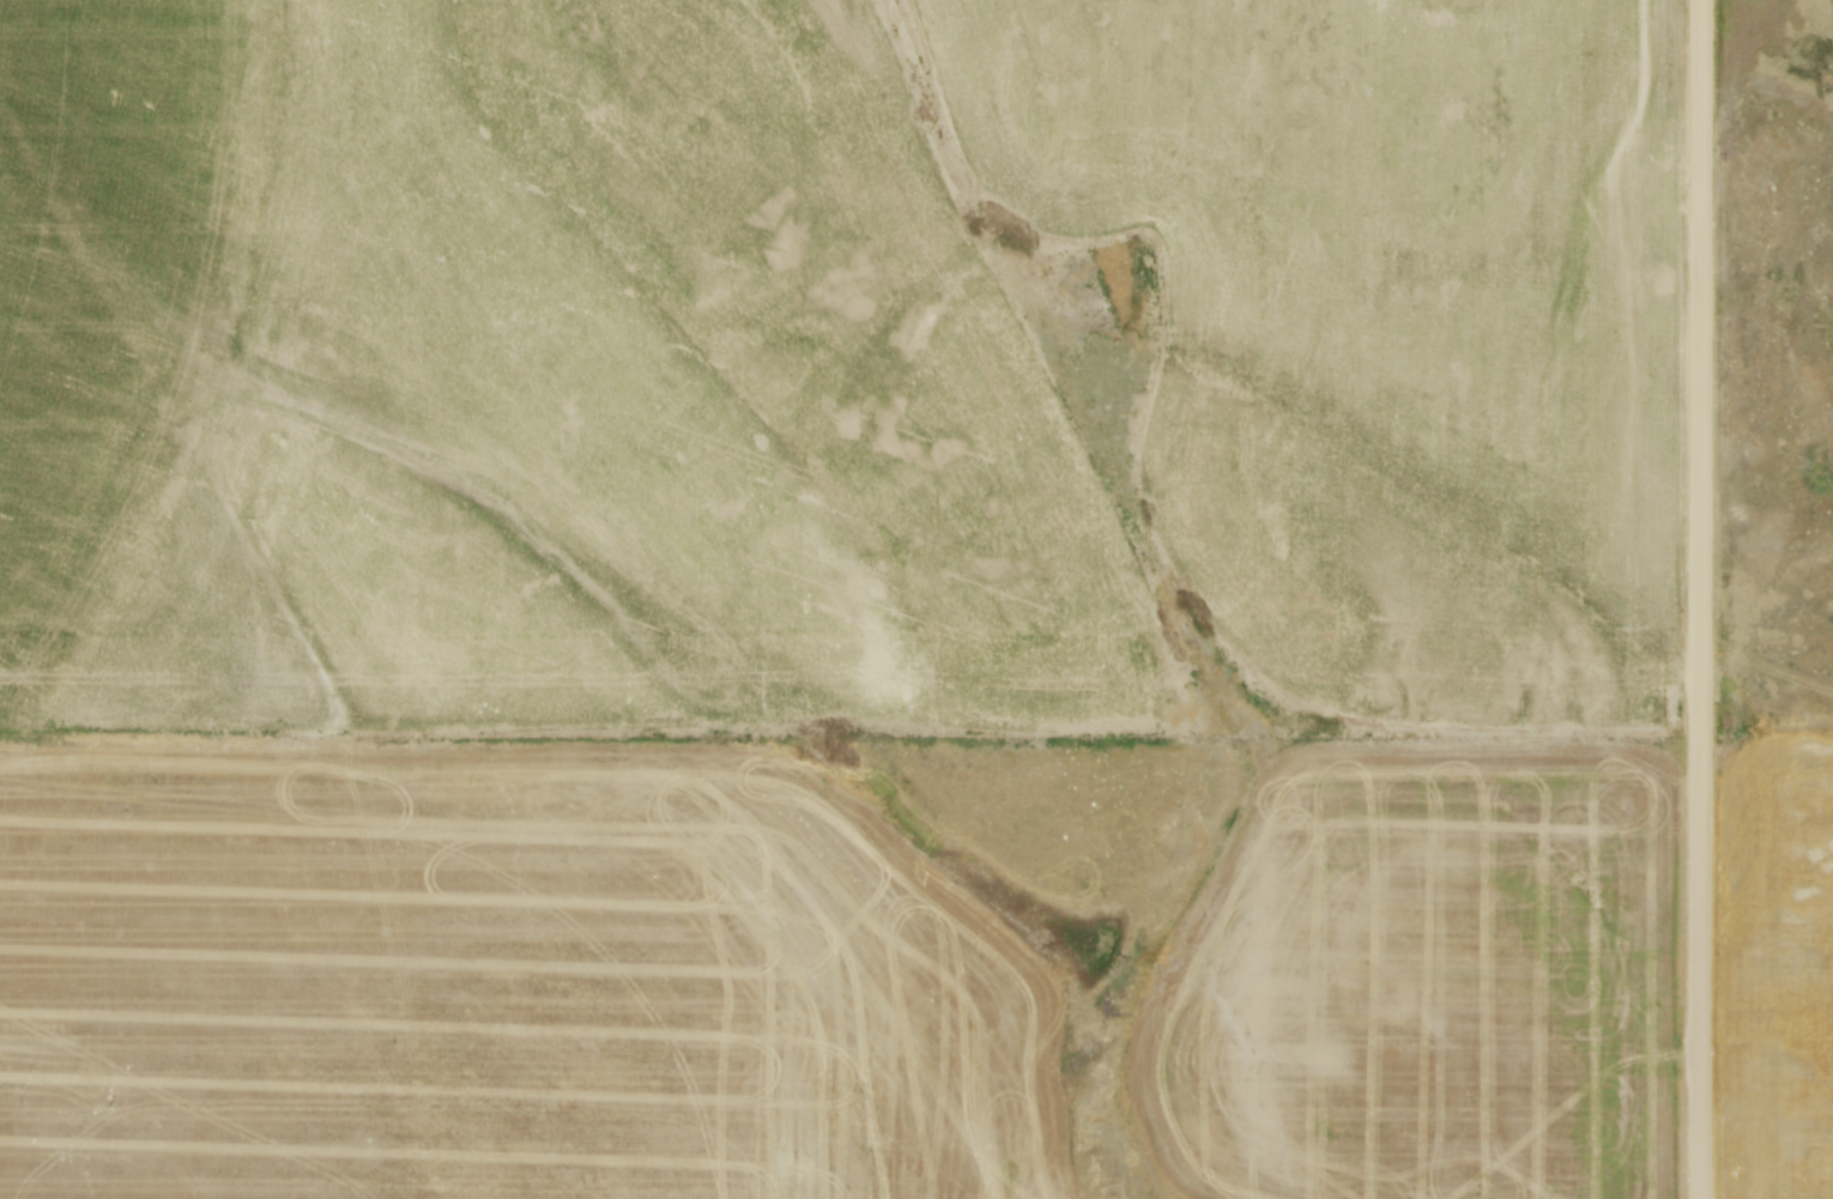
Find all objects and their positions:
crop: (365, 408)
road: (1700, 599)
crop: (1777, 977)
crop: (506, 980)

